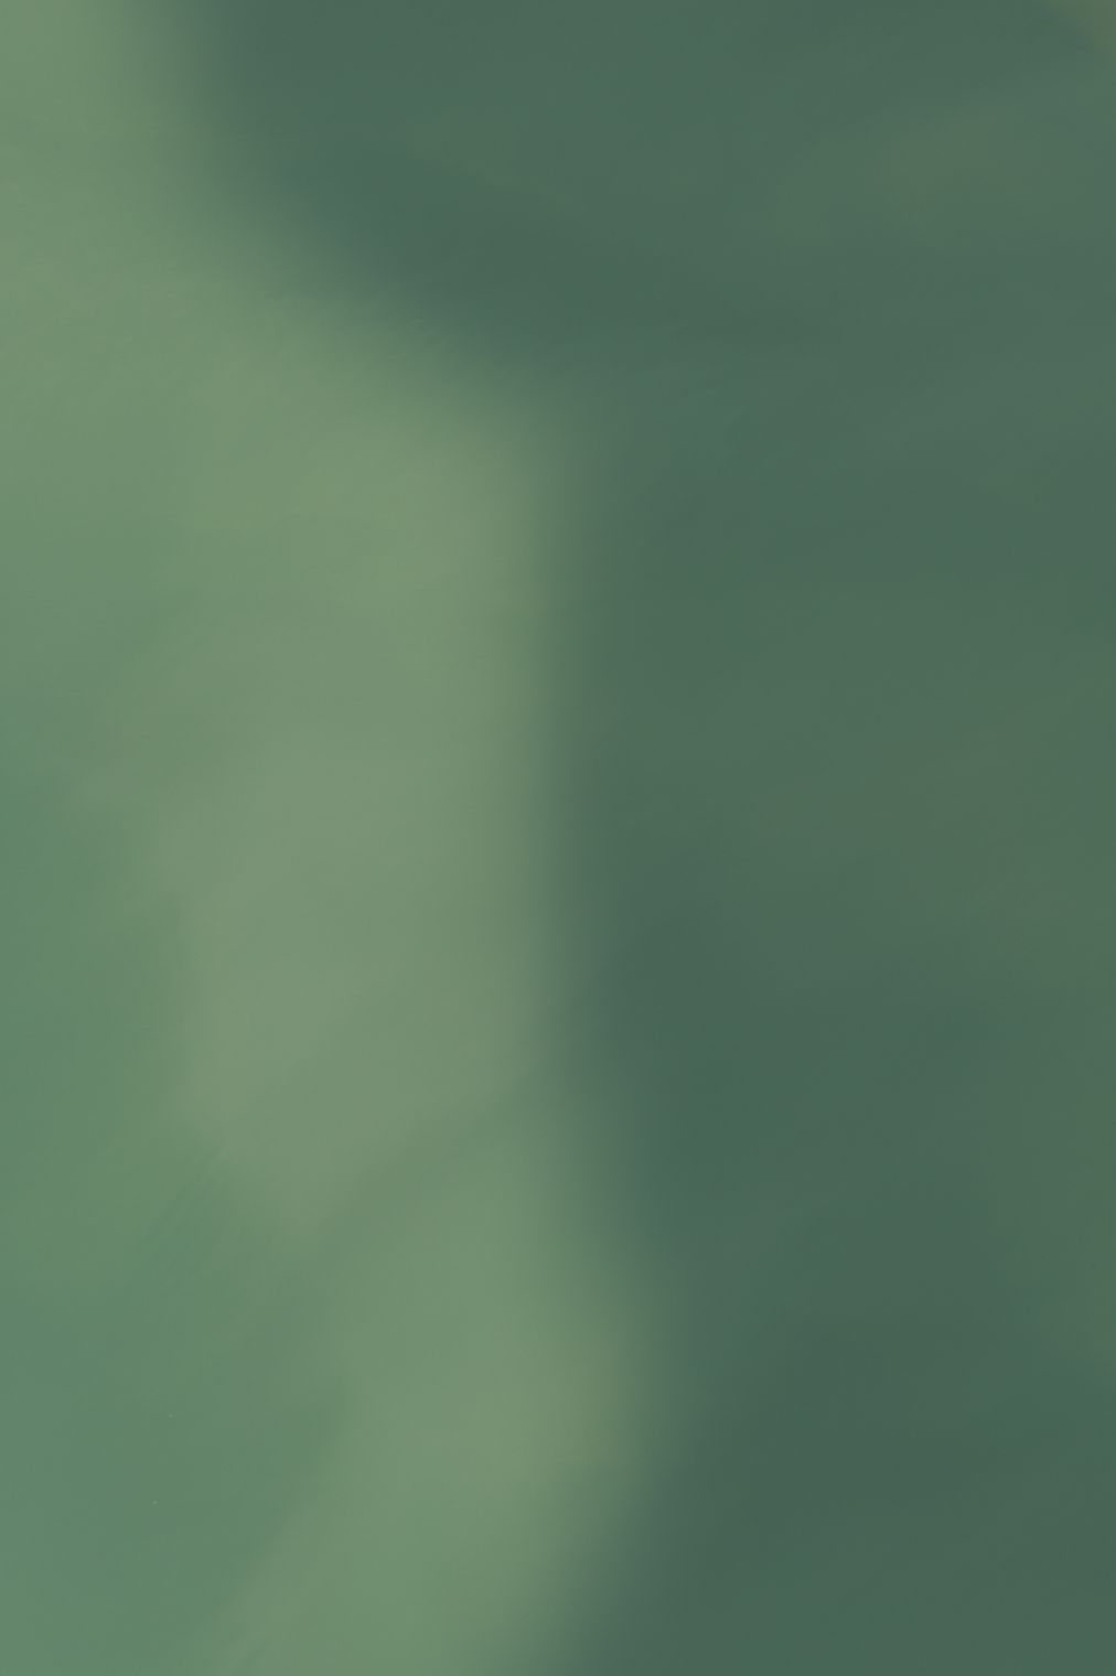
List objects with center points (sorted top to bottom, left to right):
river: (180, 1581)

